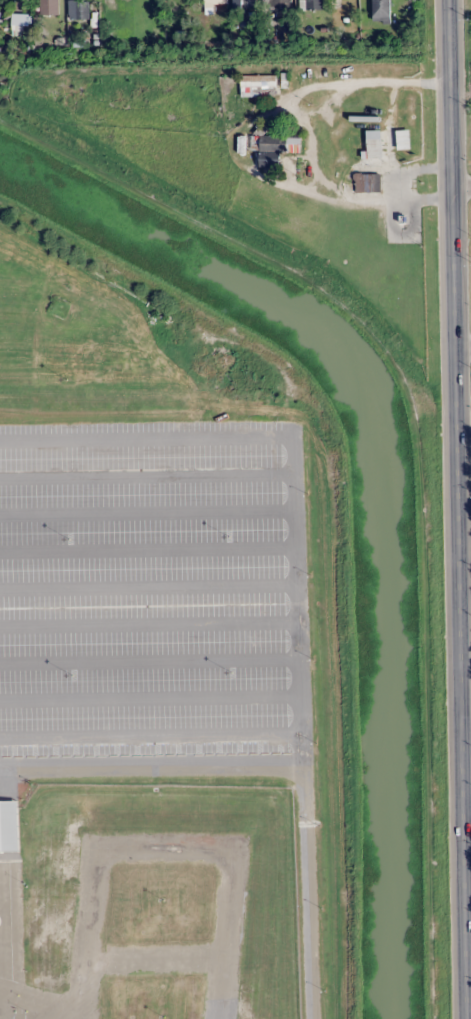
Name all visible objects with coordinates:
building: (216, 3)
building: (277, 3)
building: (246, 4)
building: (311, 4)
building: (79, 9)
building: (381, 10)
building: (18, 23)
building: (258, 85)
building: (280, 143)
building: (367, 182)
road: (463, 183)
road: (465, 347)
river: (382, 481)
road: (461, 509)
road: (467, 706)
road: (281, 766)

